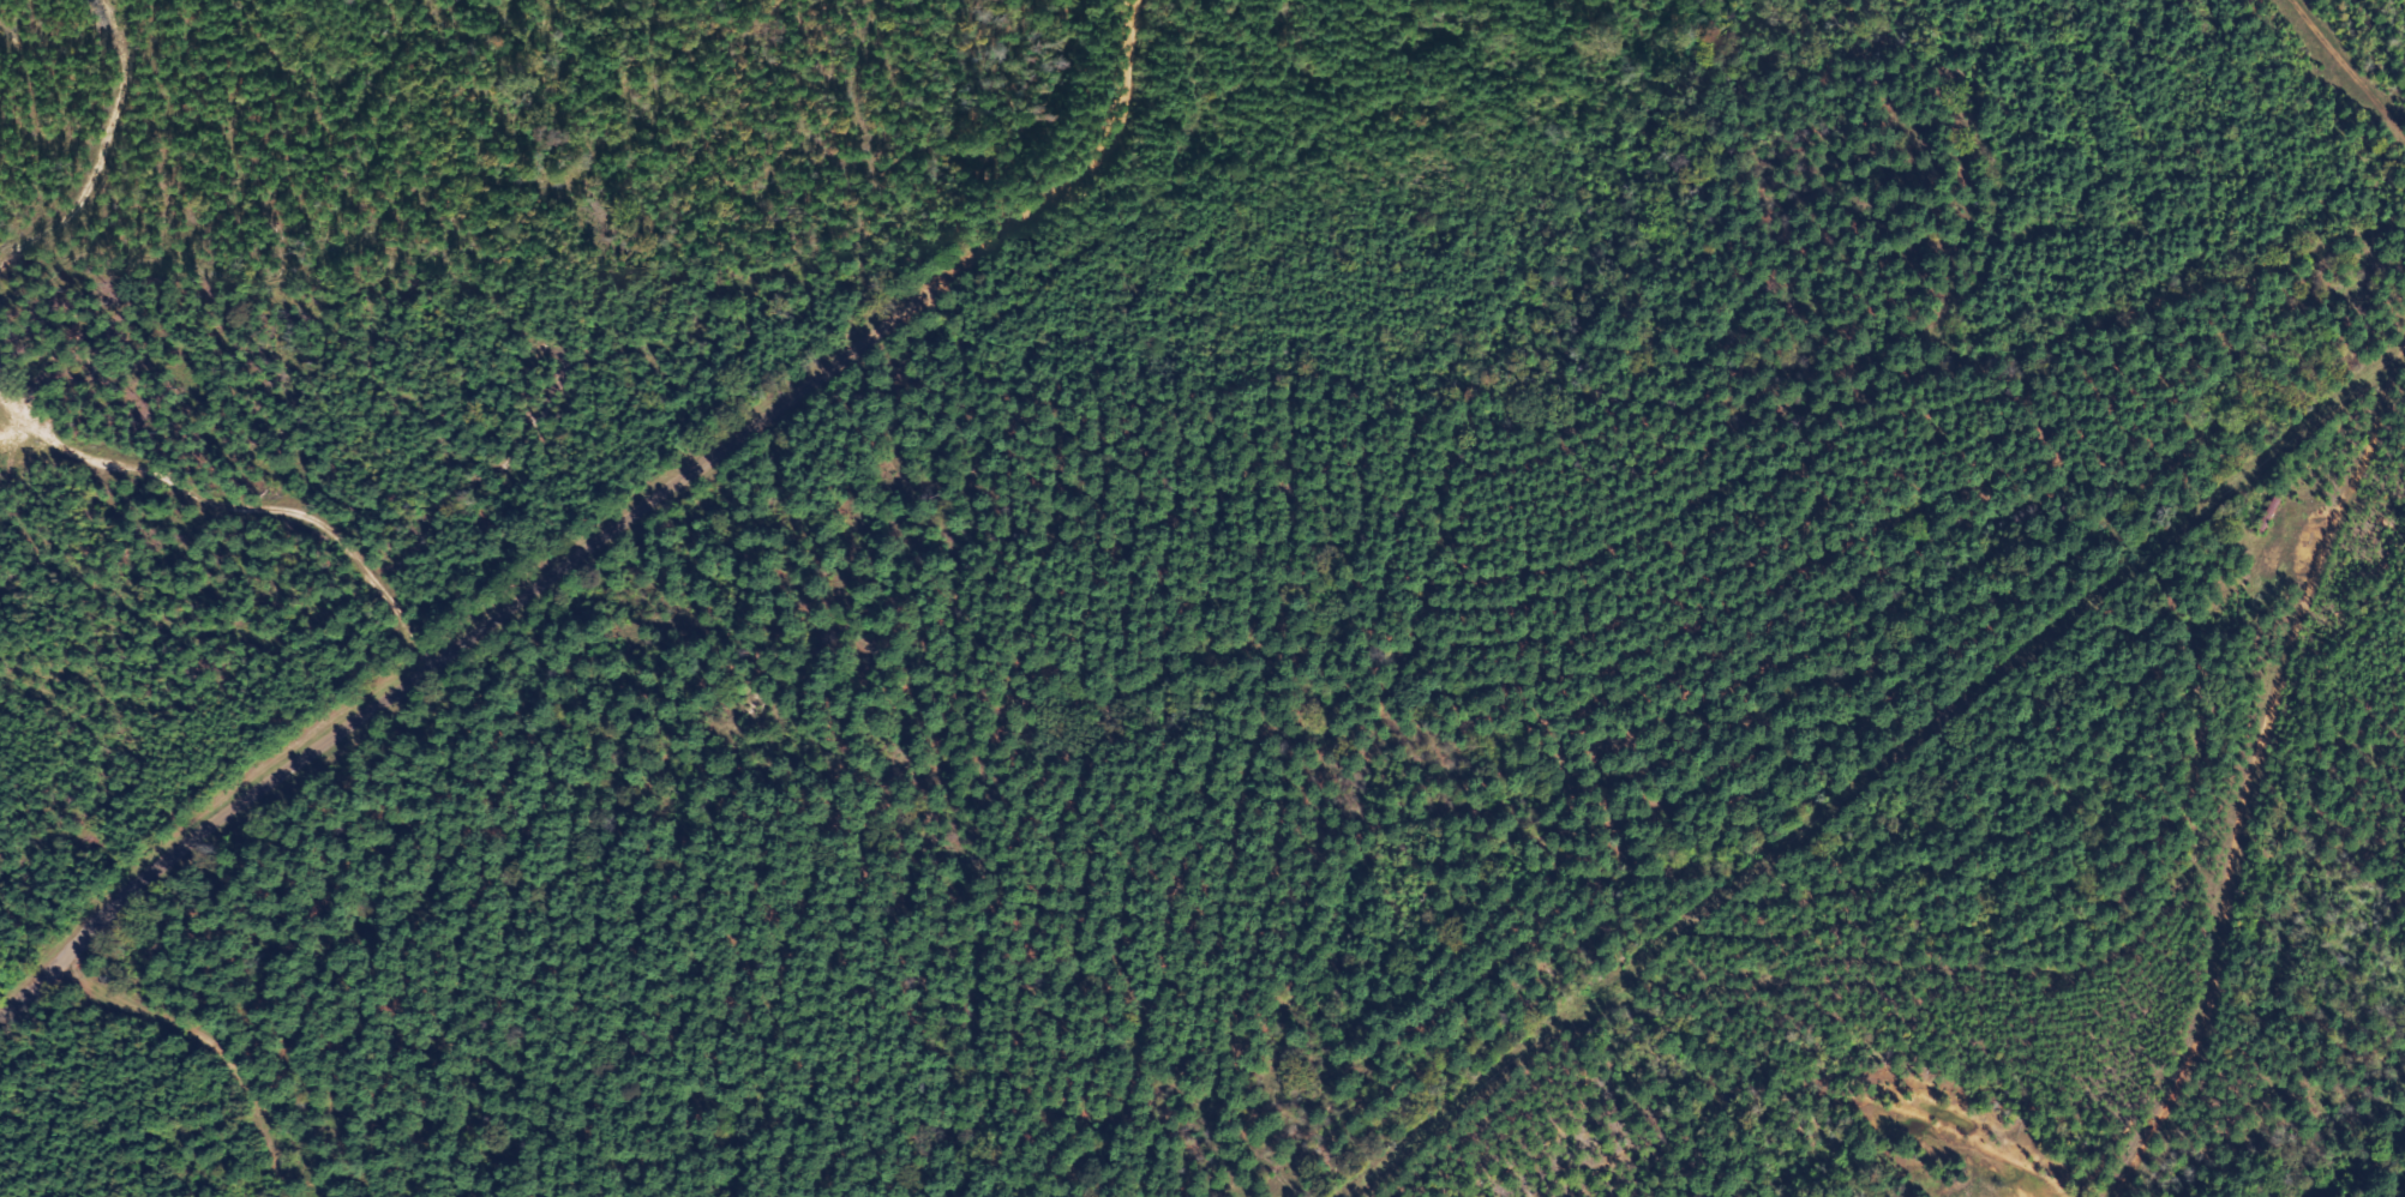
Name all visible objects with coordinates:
road: (1102, 163)
road: (1693, 345)
road: (474, 633)

